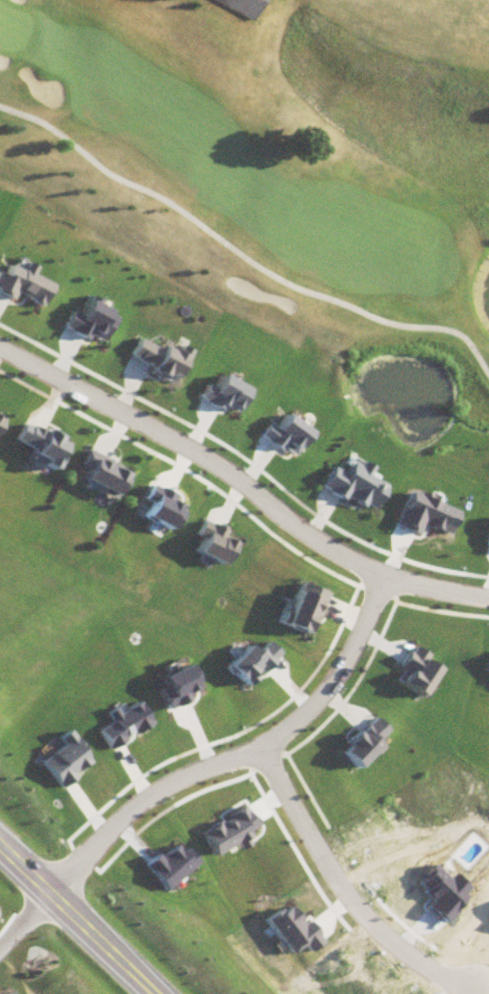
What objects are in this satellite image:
building: (235, 8)
park: (284, 177)
road: (239, 256)
road: (383, 588)
road: (437, 590)
road: (349, 889)
road: (80, 916)
road: (28, 924)

